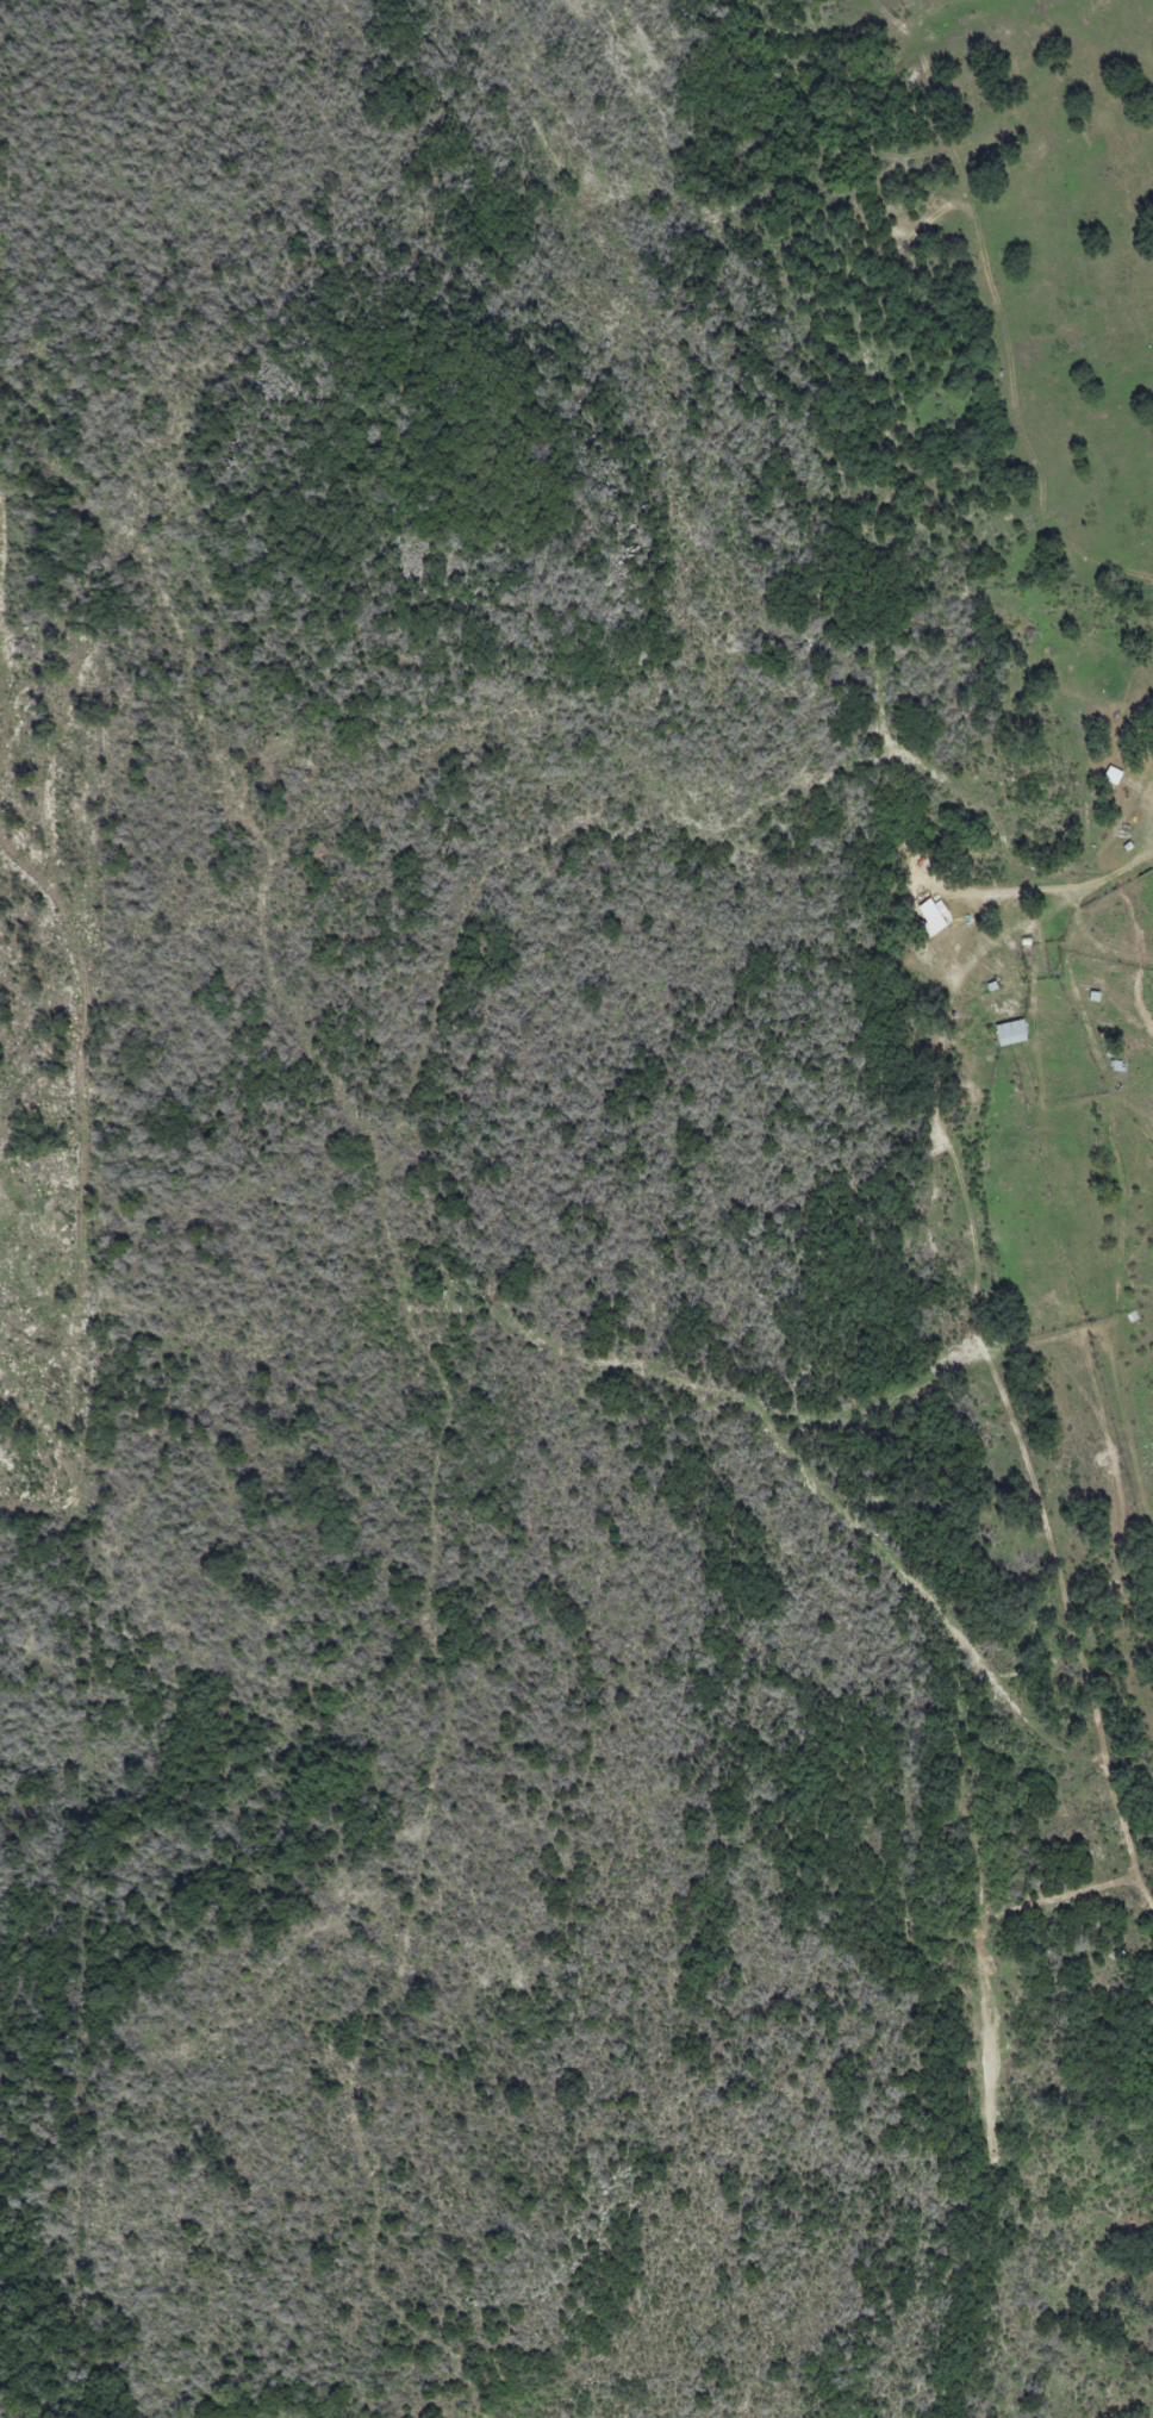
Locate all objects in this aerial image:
building: (928, 920)
building: (1011, 1033)

